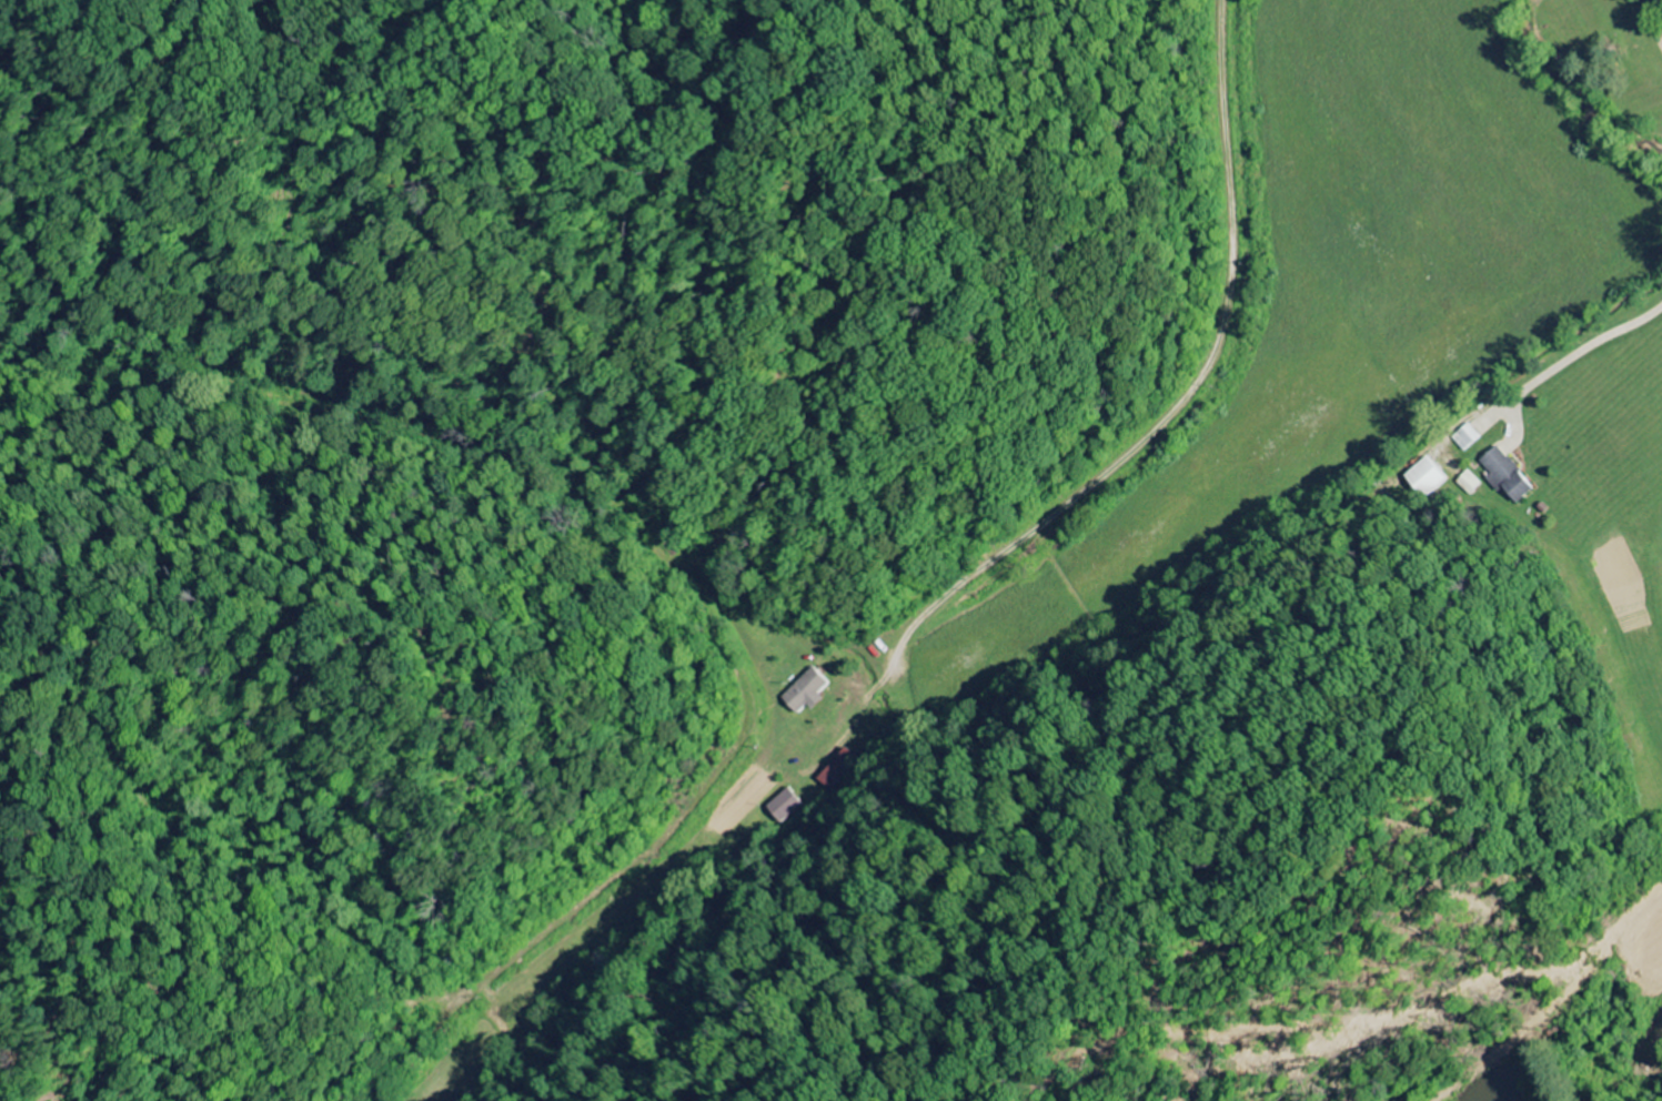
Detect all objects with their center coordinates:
river: (1584, 97)
road: (1585, 350)
building: (1465, 438)
road: (1136, 450)
building: (1505, 476)
building: (1426, 478)
building: (810, 691)
building: (840, 769)
building: (787, 805)

